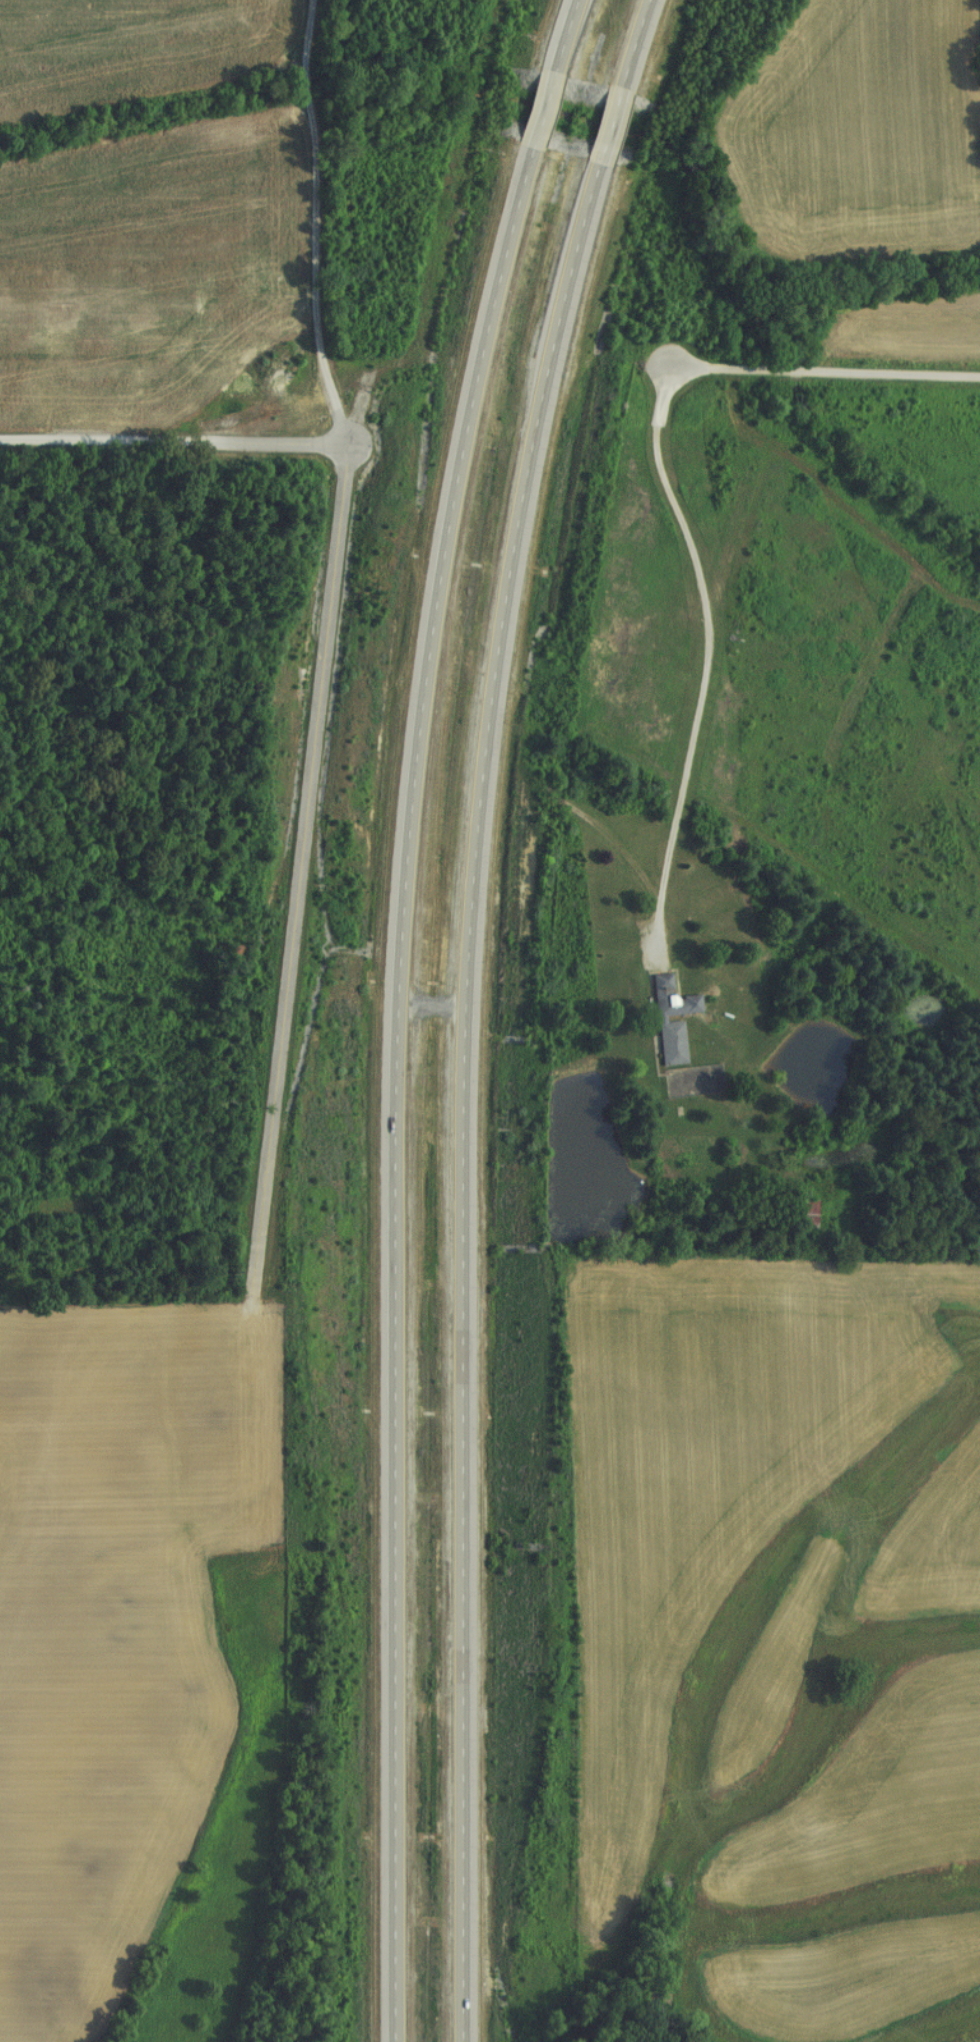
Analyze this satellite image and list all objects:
road: (324, 228)
road: (819, 370)
road: (169, 442)
road: (295, 872)
road: (461, 1010)
road: (394, 1011)
building: (669, 1020)
building: (804, 1215)

